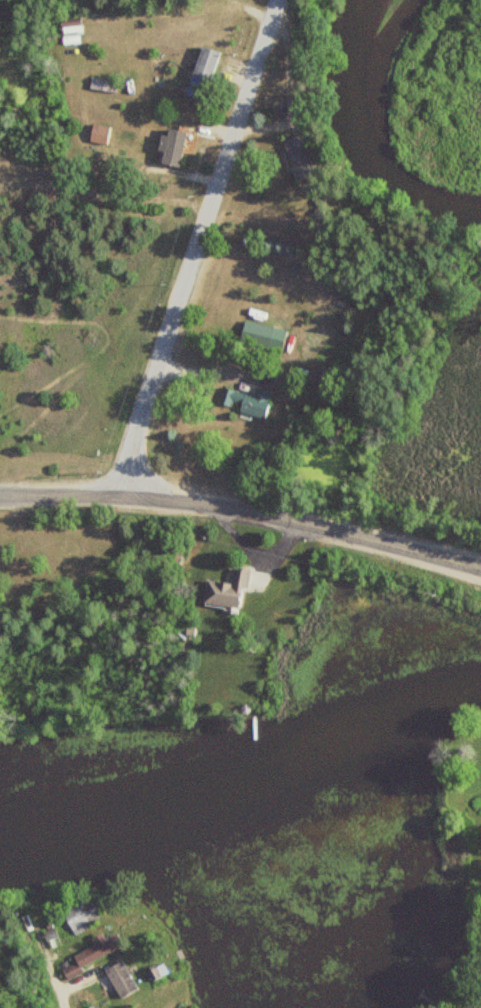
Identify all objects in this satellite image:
building: (201, 72)
building: (97, 133)
river: (363, 143)
building: (169, 146)
building: (296, 157)
road: (195, 248)
road: (211, 368)
building: (244, 401)
road: (16, 495)
road: (259, 515)
building: (224, 592)
river: (248, 789)
building: (79, 916)
building: (94, 952)
building: (118, 979)
road: (56, 985)
road: (38, 1000)

